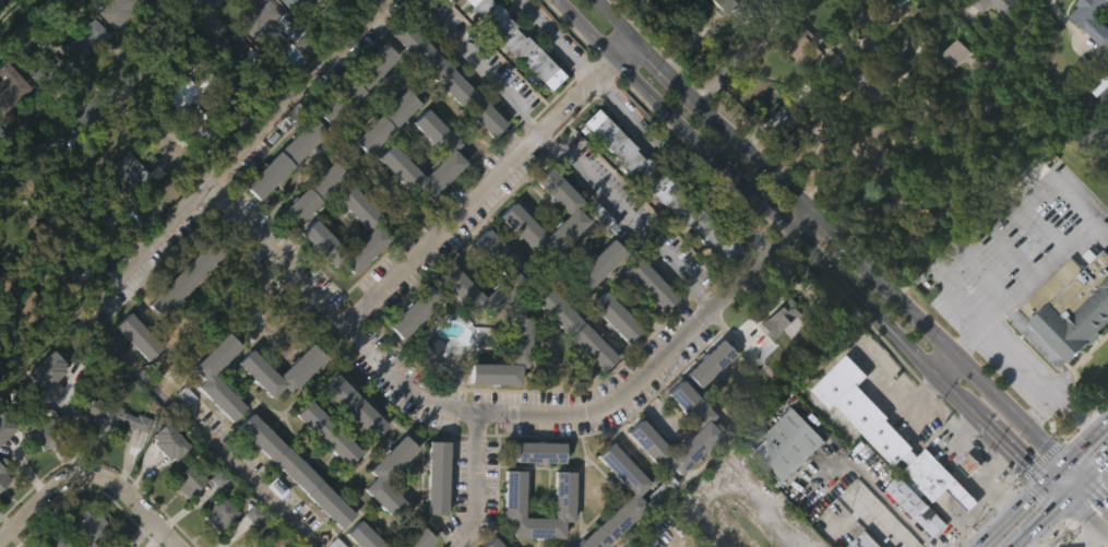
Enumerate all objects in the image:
building: (901, 2)
building: (951, 3)
building: (291, 4)
building: (321, 7)
building: (732, 8)
building: (1005, 8)
building: (111, 10)
building: (141, 13)
road: (631, 15)
building: (1094, 17)
building: (0, 20)
building: (259, 20)
road: (611, 22)
building: (288, 27)
building: (903, 34)
building: (83, 36)
building: (720, 37)
building: (993, 38)
road: (558, 39)
building: (511, 40)
building: (797, 40)
building: (112, 49)
building: (962, 51)
building: (1091, 51)
building: (229, 52)
building: (254, 59)
building: (492, 63)
road: (480, 68)
building: (47, 73)
building: (78, 76)
building: (874, 76)
building: (450, 80)
road: (670, 83)
building: (802, 83)
building: (357, 85)
building: (224, 87)
road: (800, 91)
building: (954, 93)
building: (10, 98)
road: (105, 102)
building: (194, 102)
road: (1089, 117)
building: (287, 118)
building: (442, 119)
building: (380, 120)
building: (862, 120)
building: (1097, 120)
building: (350, 124)
road: (151, 127)
building: (0, 133)
road: (817, 140)
building: (187, 148)
building: (384, 153)
building: (879, 154)
building: (285, 159)
building: (380, 162)
road: (759, 165)
building: (0, 177)
building: (120, 177)
road: (488, 182)
building: (656, 186)
building: (312, 193)
building: (279, 198)
building: (388, 200)
building: (513, 209)
building: (120, 210)
road: (767, 213)
building: (937, 213)
road: (988, 215)
building: (600, 216)
road: (628, 217)
building: (73, 219)
building: (653, 226)
building: (308, 229)
building: (307, 234)
road: (839, 245)
building: (934, 249)
building: (47, 251)
building: (508, 254)
building: (82, 258)
building: (600, 263)
building: (369, 266)
building: (451, 271)
road: (116, 275)
building: (187, 275)
building: (652, 282)
road: (1028, 283)
building: (15, 299)
building: (592, 305)
building: (414, 311)
building: (1067, 311)
building: (617, 314)
building: (180, 319)
building: (644, 324)
building: (454, 326)
building: (577, 328)
building: (138, 334)
building: (521, 338)
road: (40, 340)
road: (746, 347)
building: (552, 350)
building: (409, 352)
building: (775, 358)
building: (714, 362)
road: (939, 365)
building: (48, 368)
building: (123, 368)
building: (257, 368)
road: (967, 372)
building: (206, 376)
road: (1044, 376)
building: (514, 380)
building: (586, 387)
building: (355, 403)
building: (704, 403)
building: (251, 408)
building: (43, 409)
building: (861, 409)
building: (112, 415)
building: (202, 416)
road: (501, 419)
building: (3, 427)
building: (641, 429)
building: (46, 431)
building: (326, 431)
building: (169, 440)
traffic signals: (1088, 443)
building: (785, 448)
building: (541, 450)
building: (98, 453)
road: (1012, 455)
building: (133, 462)
traffic signals: (1025, 465)
building: (3, 469)
building: (39, 469)
building: (295, 469)
building: (321, 472)
road: (91, 474)
building: (434, 476)
building: (2, 477)
building: (379, 479)
building: (938, 479)
building: (186, 480)
building: (164, 481)
road: (1087, 481)
road: (1041, 485)
road: (469, 486)
building: (783, 486)
road: (1085, 487)
building: (663, 488)
road: (1057, 490)
building: (534, 491)
building: (634, 494)
traffic signals: (1099, 501)
building: (284, 502)
building: (565, 506)
building: (918, 509)
building: (221, 512)
building: (383, 512)
building: (430, 513)
building: (2, 518)
road: (1087, 519)
traffic signals: (1046, 520)
building: (182, 521)
road: (791, 523)
road: (1043, 523)
building: (87, 527)
building: (508, 527)
building: (904, 532)
building: (366, 536)
building: (418, 537)
road: (1084, 537)
building: (56, 542)
building: (865, 542)
building: (495, 543)
road: (144, 546)
building: (262, 546)

